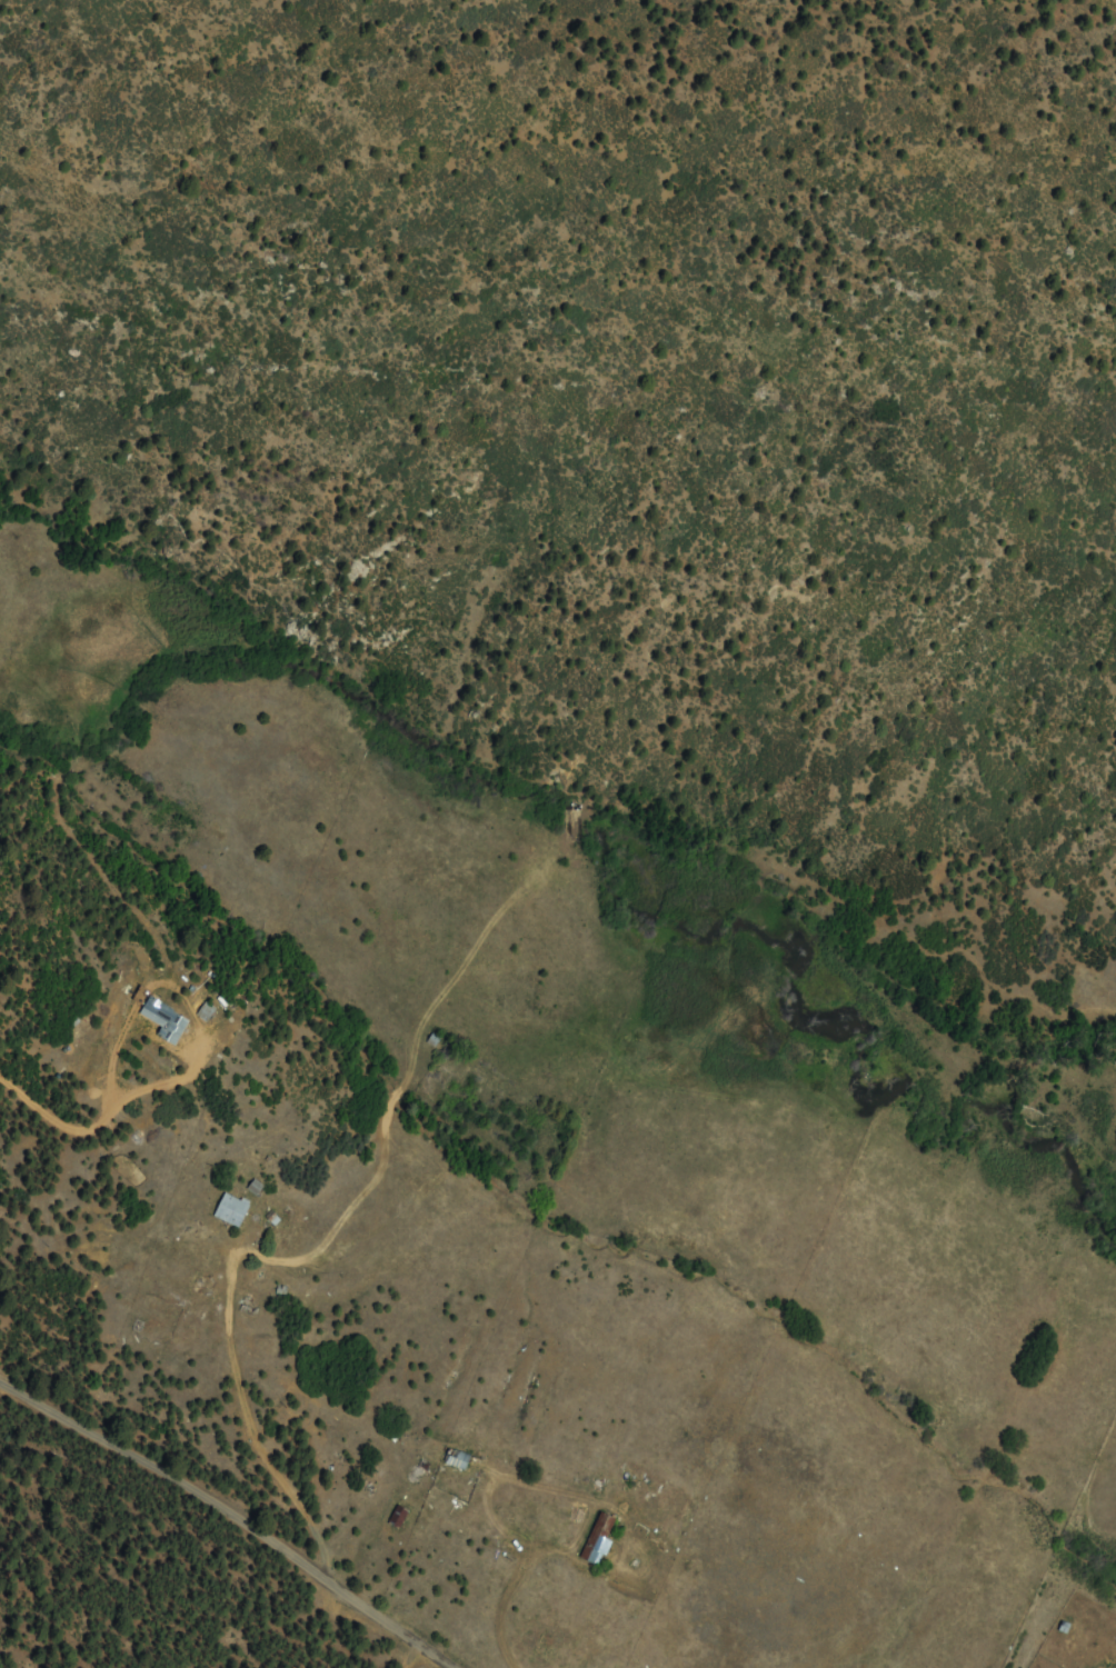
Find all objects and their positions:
building: (207, 1012)
building: (170, 1027)
road: (113, 1086)
building: (233, 1210)
road: (239, 1324)
building: (458, 1460)
building: (398, 1518)
road: (246, 1528)
building: (599, 1539)
road: (460, 1588)
road: (675, 1631)

